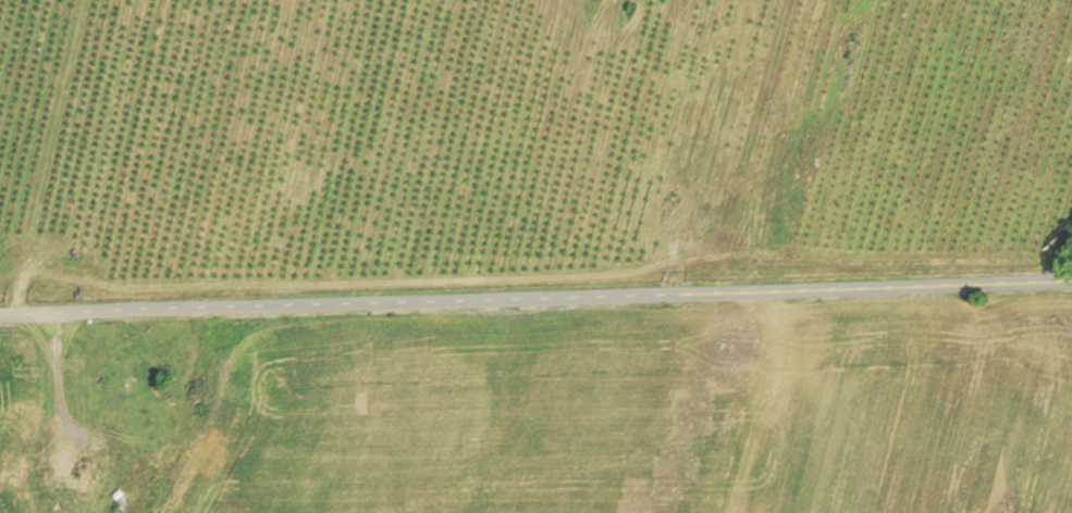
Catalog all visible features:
road: (755, 147)
road: (535, 297)
building: (119, 414)
building: (122, 453)

